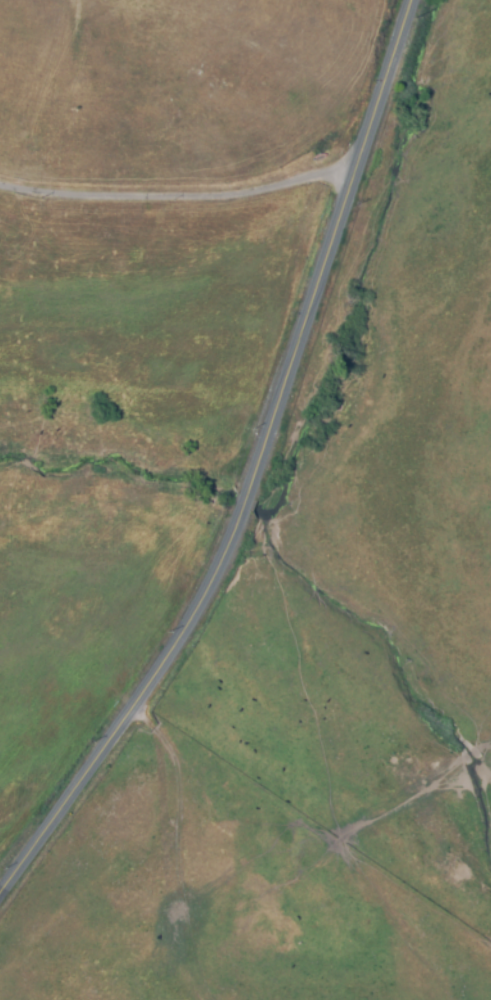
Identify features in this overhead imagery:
road: (177, 186)
road: (252, 474)

